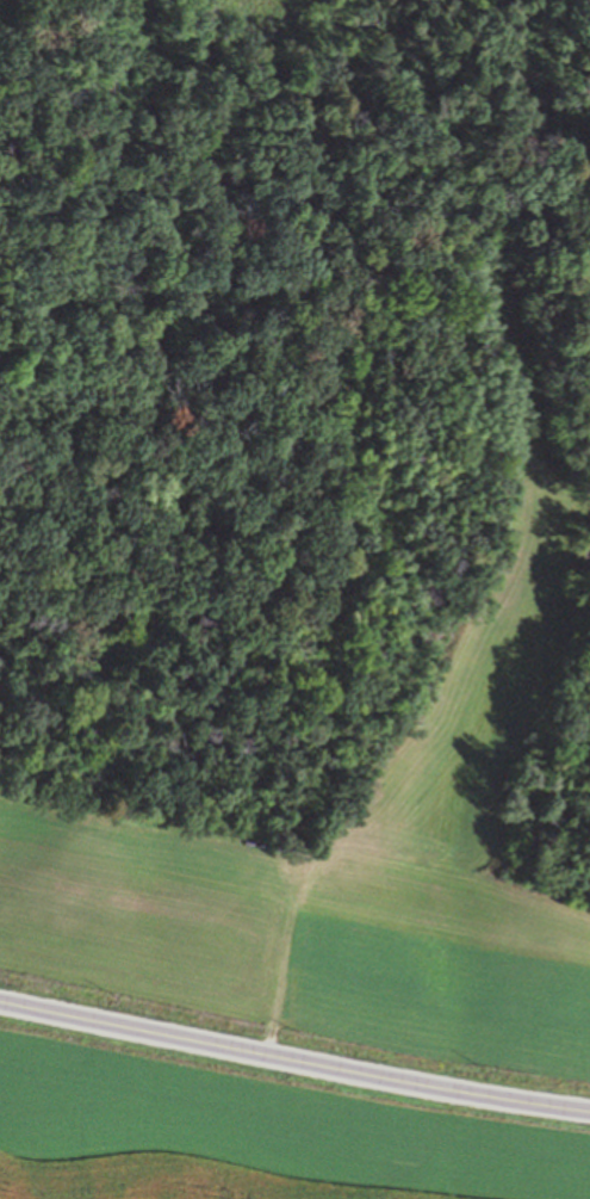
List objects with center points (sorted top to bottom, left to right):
road: (294, 1058)

